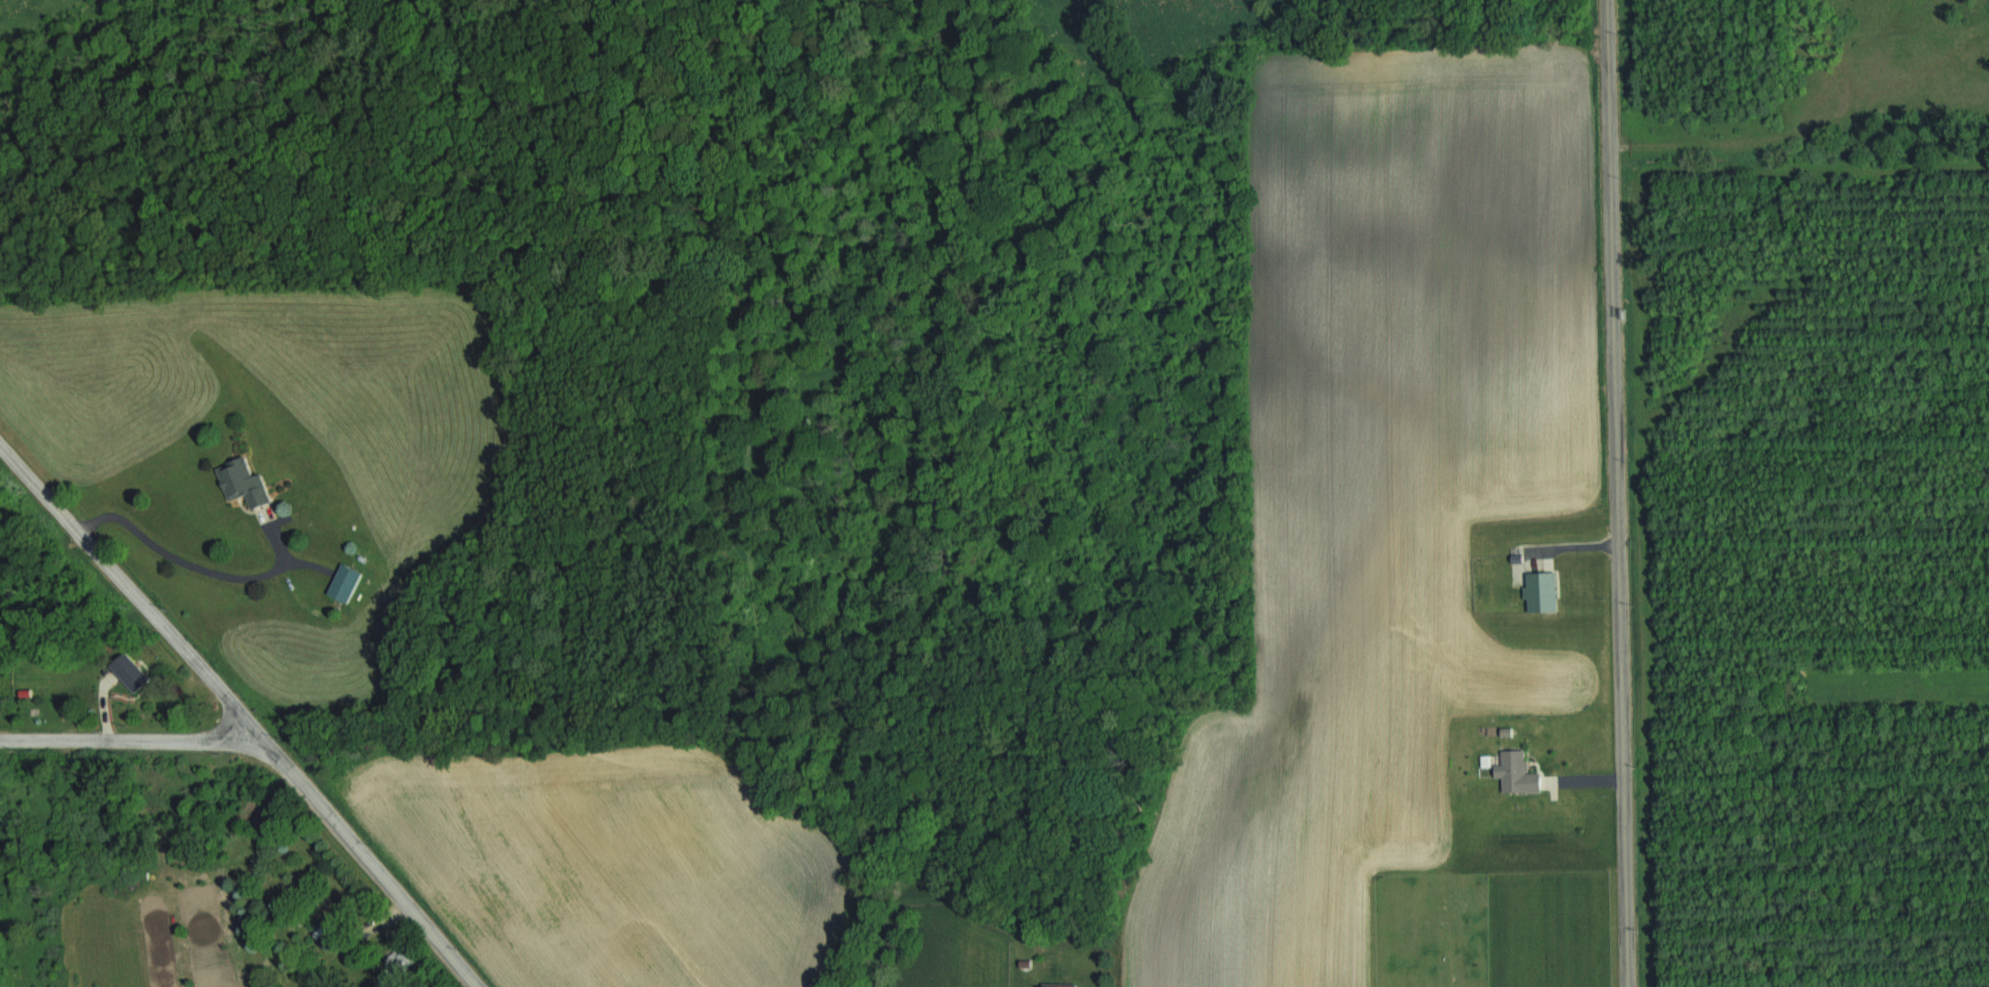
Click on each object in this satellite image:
building: (247, 481)
road: (1615, 493)
building: (347, 582)
road: (130, 588)
building: (136, 672)
road: (130, 737)
building: (1510, 771)
road: (367, 861)
building: (401, 966)

